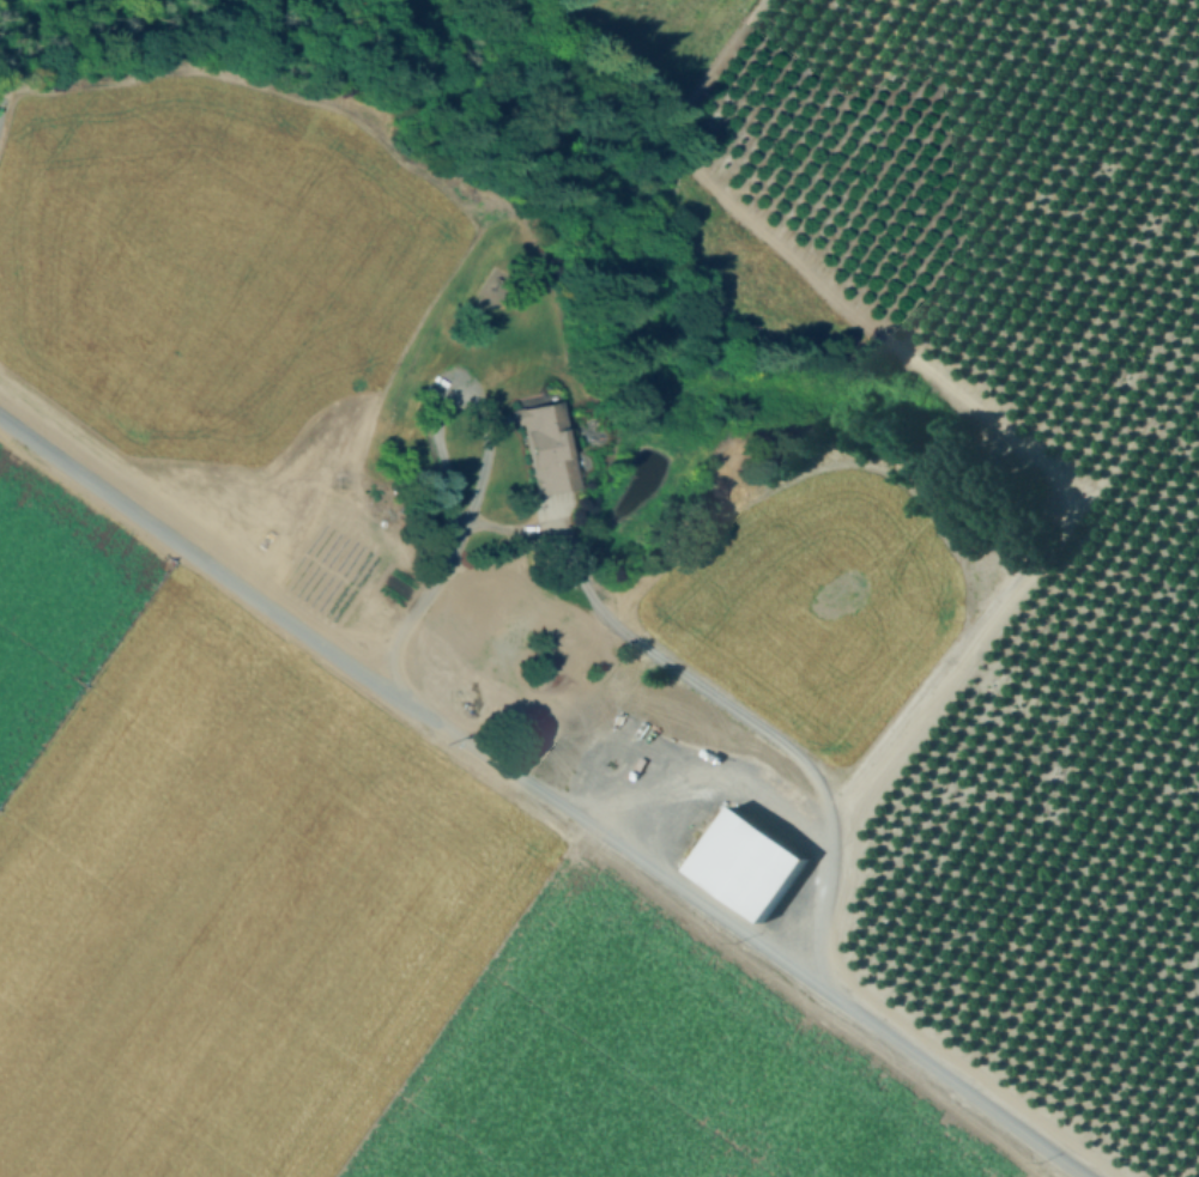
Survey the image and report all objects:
building: (545, 445)
road: (194, 534)
road: (591, 599)
crop: (329, 722)
building: (747, 863)
road: (667, 879)

